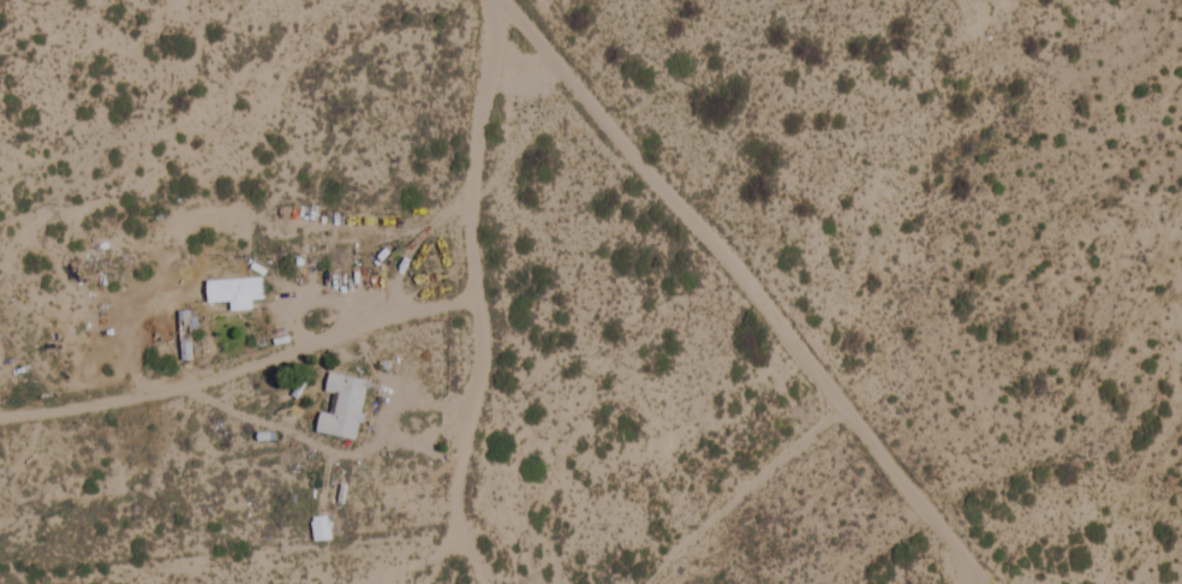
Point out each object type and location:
road: (567, 16)
road: (808, 288)
building: (235, 291)
building: (184, 336)
building: (344, 409)
building: (321, 530)

